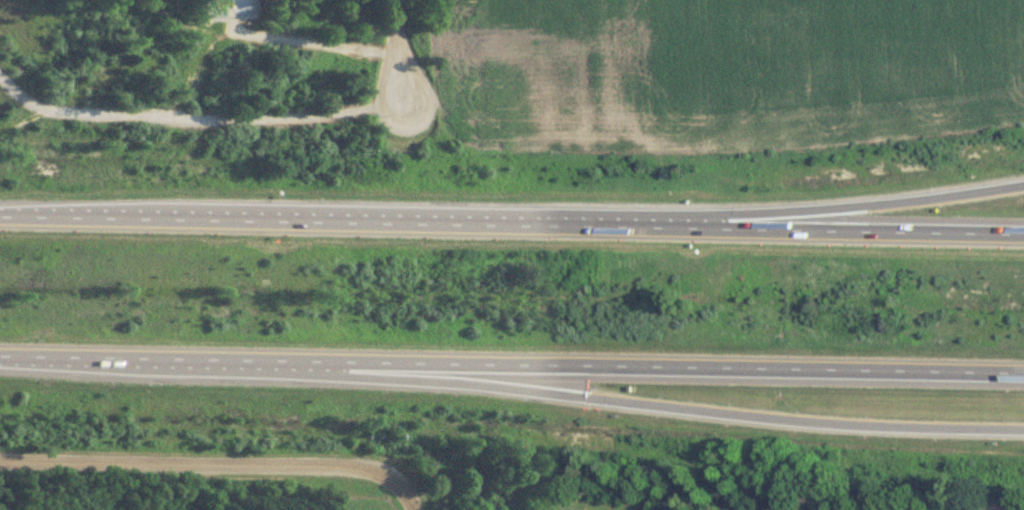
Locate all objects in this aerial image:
road: (278, 27)
road: (398, 44)
road: (196, 109)
road: (871, 206)
road: (512, 214)
road: (511, 365)
road: (703, 408)
road: (210, 464)
road: (408, 505)

